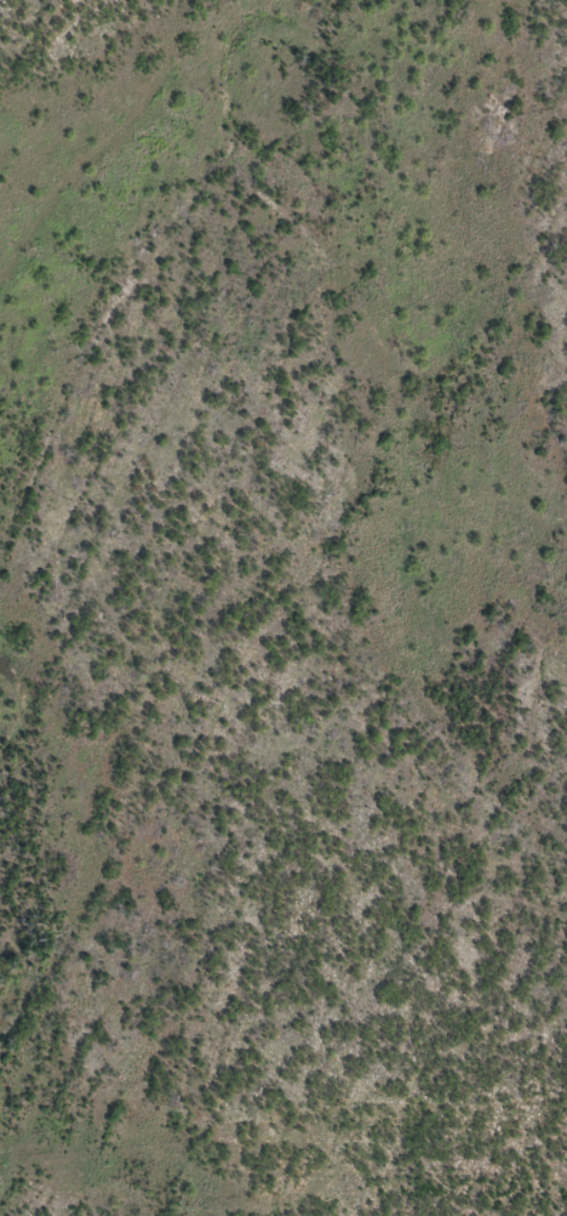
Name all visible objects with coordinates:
road: (104, 127)

